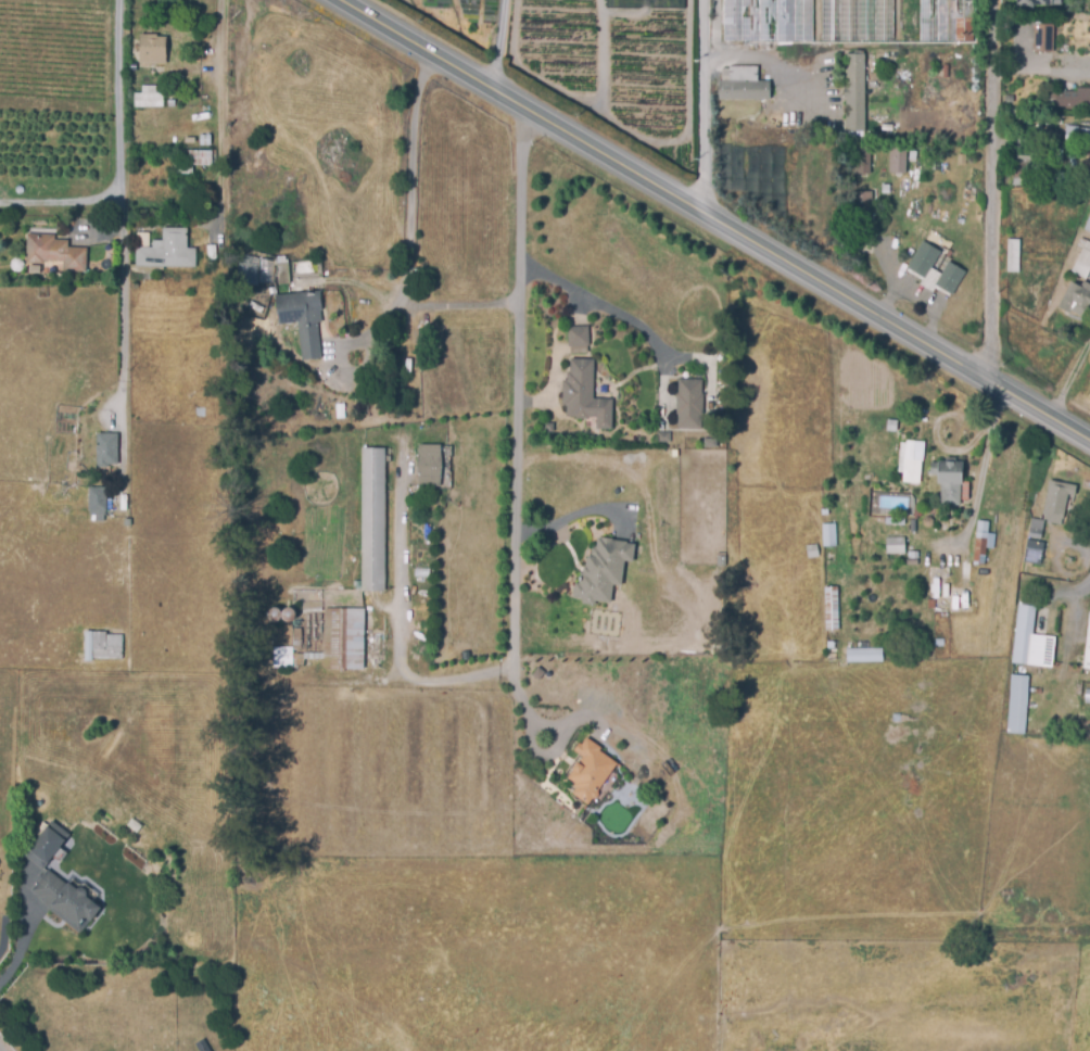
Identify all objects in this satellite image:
building: (1036, 3)
building: (766, 20)
building: (857, 21)
building: (947, 22)
building: (1044, 39)
road: (503, 42)
building: (152, 58)
road: (762, 59)
road: (1039, 65)
building: (739, 75)
building: (854, 94)
building: (745, 97)
building: (149, 99)
building: (1072, 99)
building: (172, 104)
road: (707, 112)
road: (218, 115)
building: (1085, 137)
building: (205, 138)
building: (200, 159)
building: (898, 159)
building: (861, 160)
building: (961, 161)
building: (1024, 163)
building: (1022, 180)
building: (885, 190)
road: (989, 194)
road: (672, 200)
building: (861, 202)
road: (62, 203)
road: (121, 204)
road: (407, 219)
building: (1088, 228)
building: (164, 253)
building: (55, 254)
building: (1014, 257)
building: (924, 262)
building: (1083, 262)
building: (283, 275)
building: (950, 279)
building: (1076, 301)
road: (459, 306)
road: (588, 306)
building: (303, 321)
building: (579, 339)
road: (1068, 382)
road: (517, 391)
building: (908, 391)
building: (585, 396)
building: (687, 406)
road: (1039, 418)
building: (892, 427)
building: (662, 439)
building: (106, 451)
building: (910, 463)
building: (434, 467)
road: (981, 468)
building: (950, 487)
building: (97, 503)
building: (1053, 503)
building: (122, 504)
building: (826, 512)
road: (568, 517)
building: (373, 521)
building: (895, 523)
building: (128, 524)
building: (1036, 529)
building: (828, 535)
building: (983, 544)
building: (896, 550)
building: (1031, 552)
building: (812, 553)
building: (912, 564)
building: (604, 572)
building: (965, 572)
building: (831, 575)
building: (933, 605)
building: (953, 605)
building: (832, 610)
road: (398, 621)
building: (343, 640)
building: (1030, 641)
building: (938, 643)
building: (829, 646)
building: (1087, 646)
building: (102, 647)
building: (864, 657)
building: (1017, 705)
building: (590, 770)
building: (47, 844)
building: (47, 886)
building: (74, 907)
road: (21, 946)

